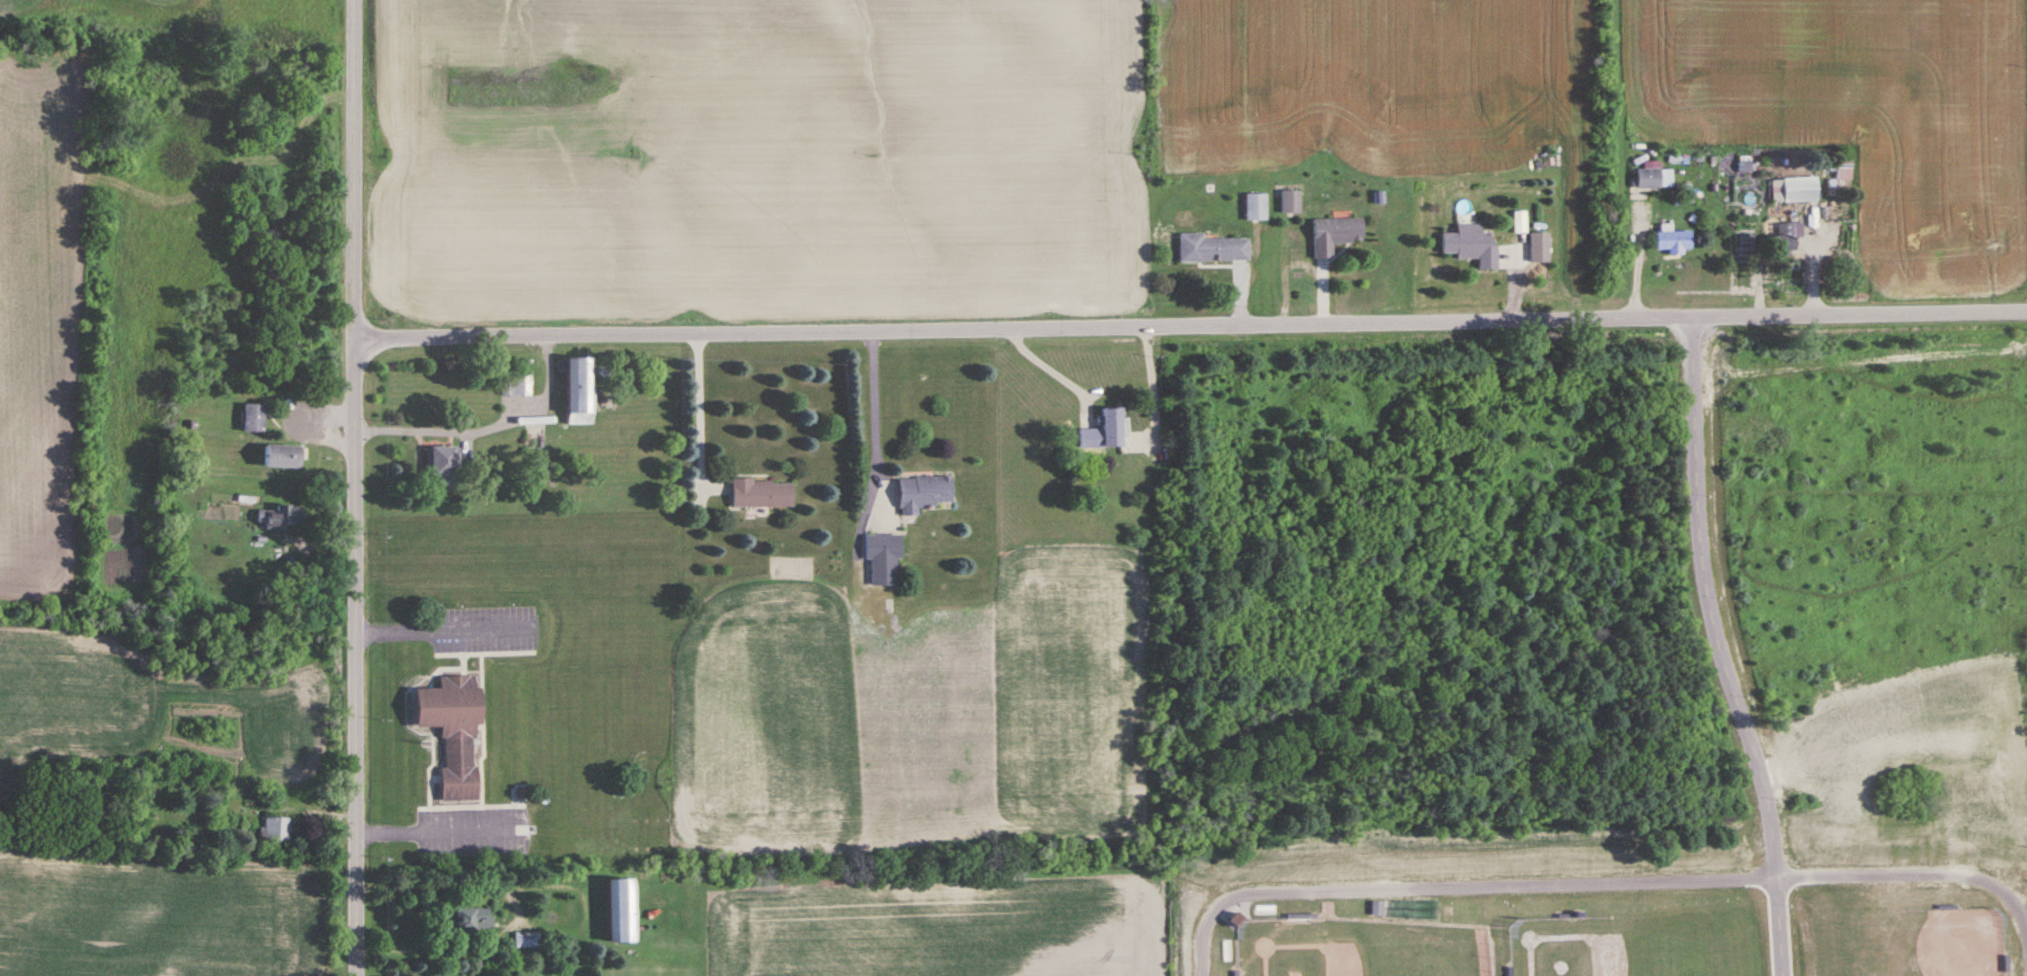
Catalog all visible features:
building: (1843, 173)
building: (1654, 178)
building: (1795, 185)
building: (1290, 202)
building: (1256, 208)
building: (1334, 234)
building: (1673, 240)
building: (1471, 245)
building: (1539, 247)
building: (1211, 249)
road: (1191, 325)
road: (1043, 364)
building: (522, 377)
road: (1152, 382)
building: (579, 390)
road: (700, 409)
building: (254, 418)
road: (876, 418)
road: (484, 431)
building: (1104, 431)
building: (283, 457)
building: (441, 465)
road: (355, 488)
building: (922, 493)
building: (761, 494)
building: (280, 517)
building: (883, 560)
building: (452, 732)
road: (426, 825)
building: (276, 830)
road: (1608, 877)
building: (620, 910)
building: (469, 919)
building: (1235, 920)
building: (526, 940)
park: (1360, 948)

